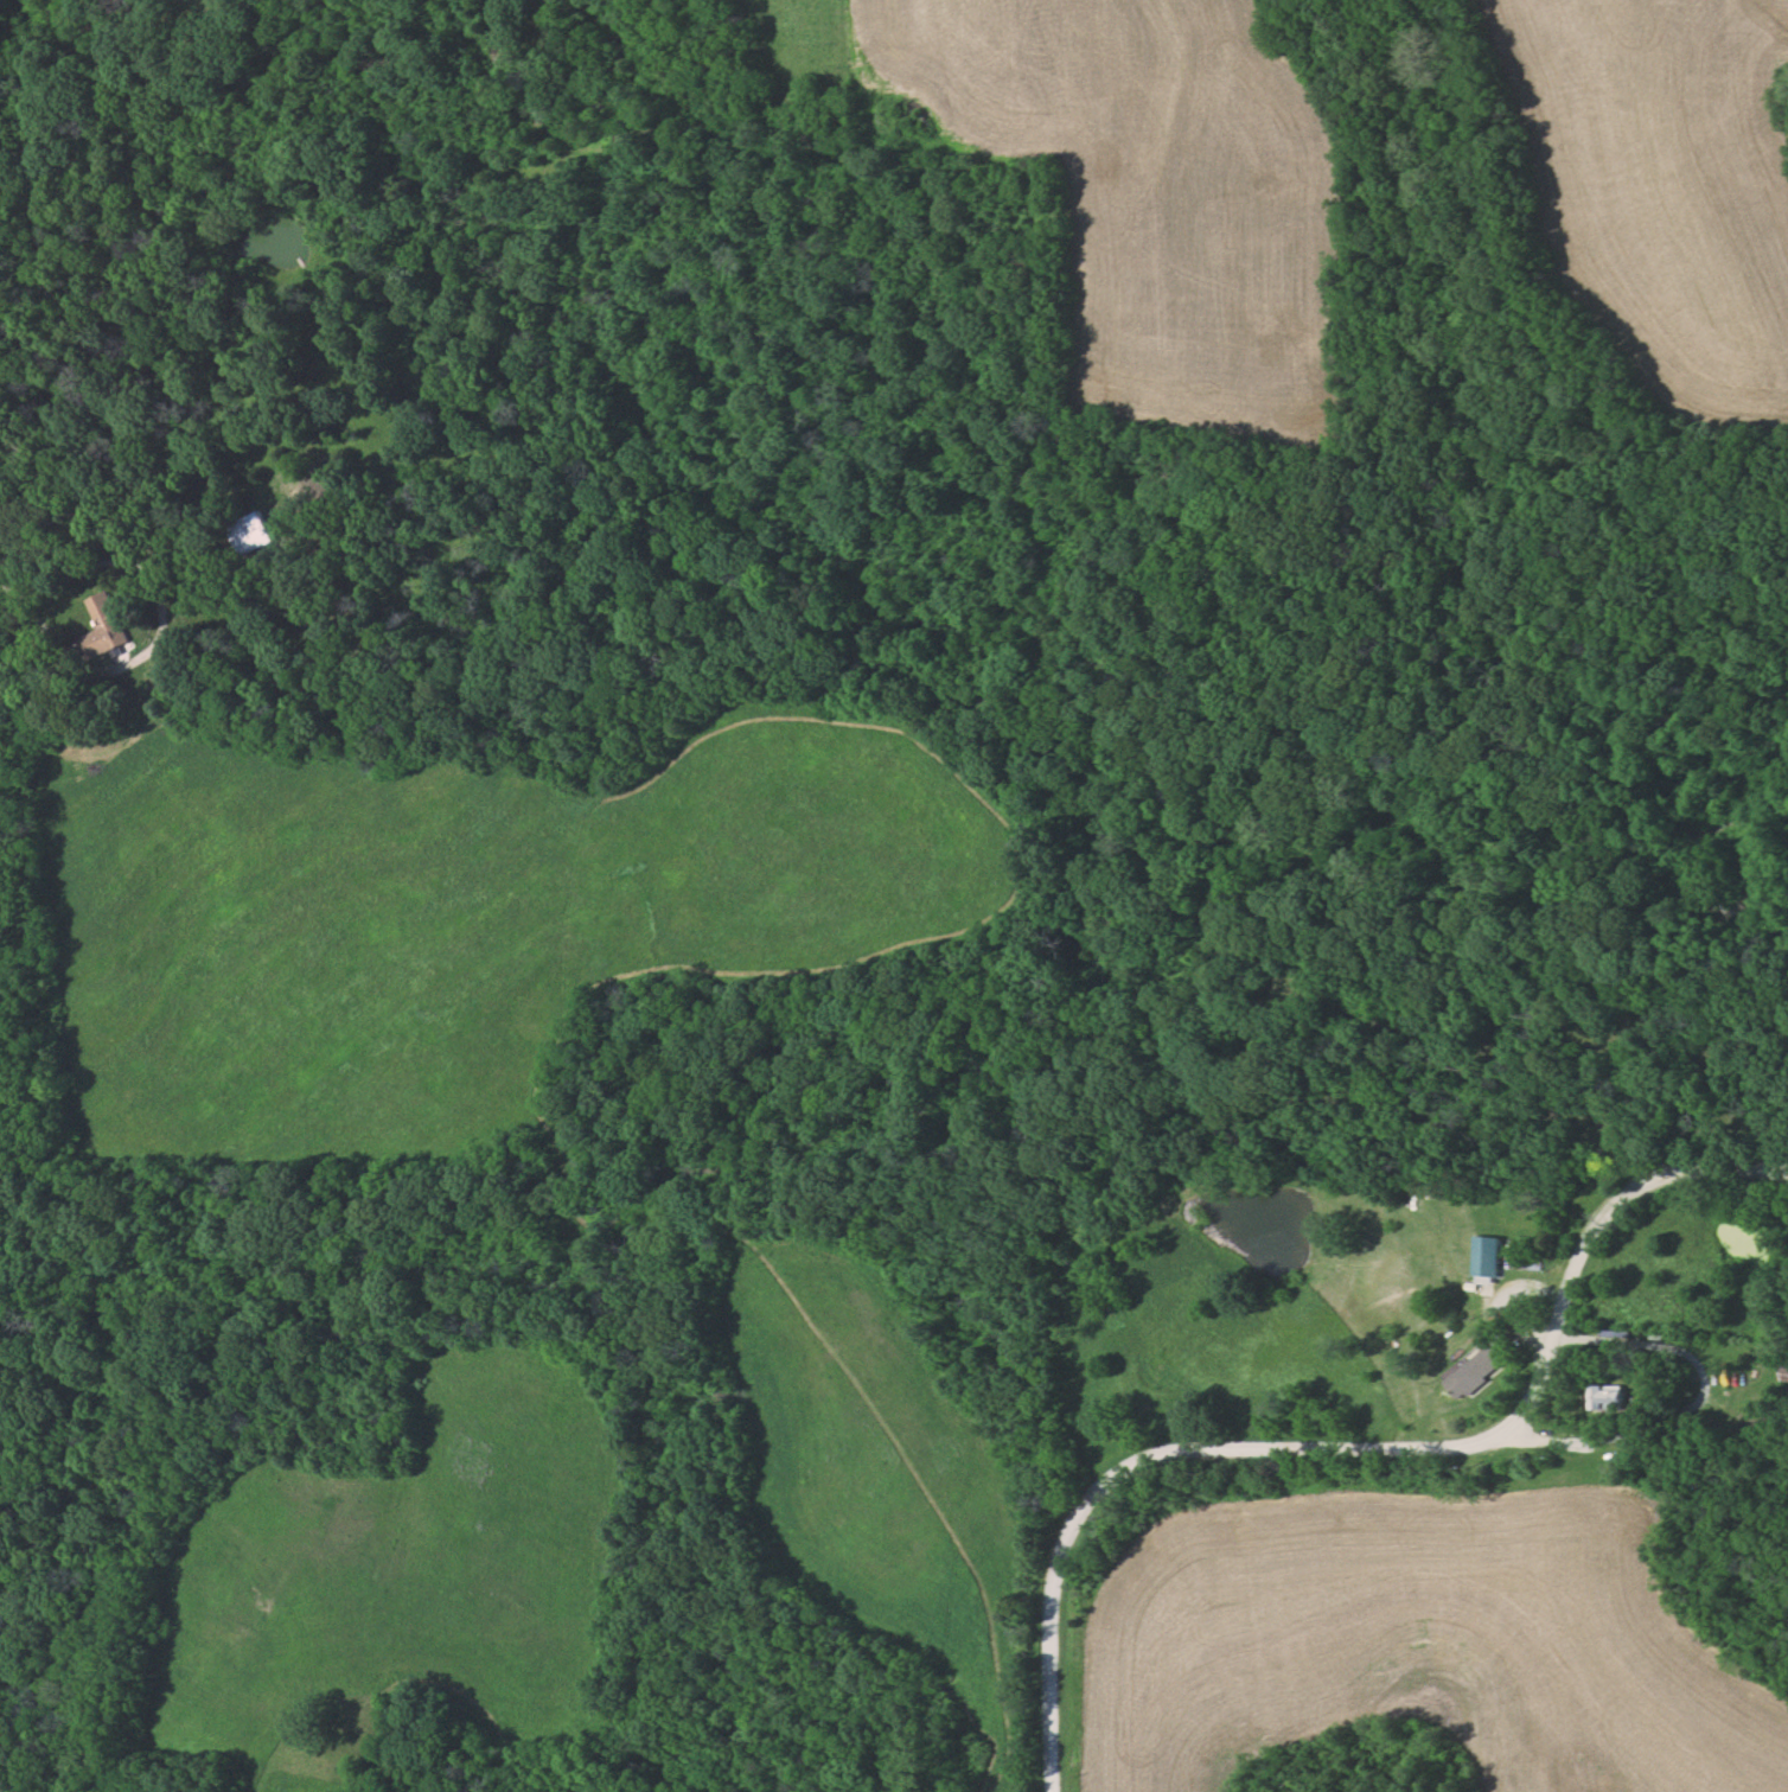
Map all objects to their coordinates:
building: (254, 533)
road: (1, 586)
building: (108, 627)
road: (149, 639)
building: (1486, 1257)
building: (1782, 1370)
building: (1476, 1373)
building: (1605, 1399)
road: (1692, 1402)
road: (1356, 1449)

